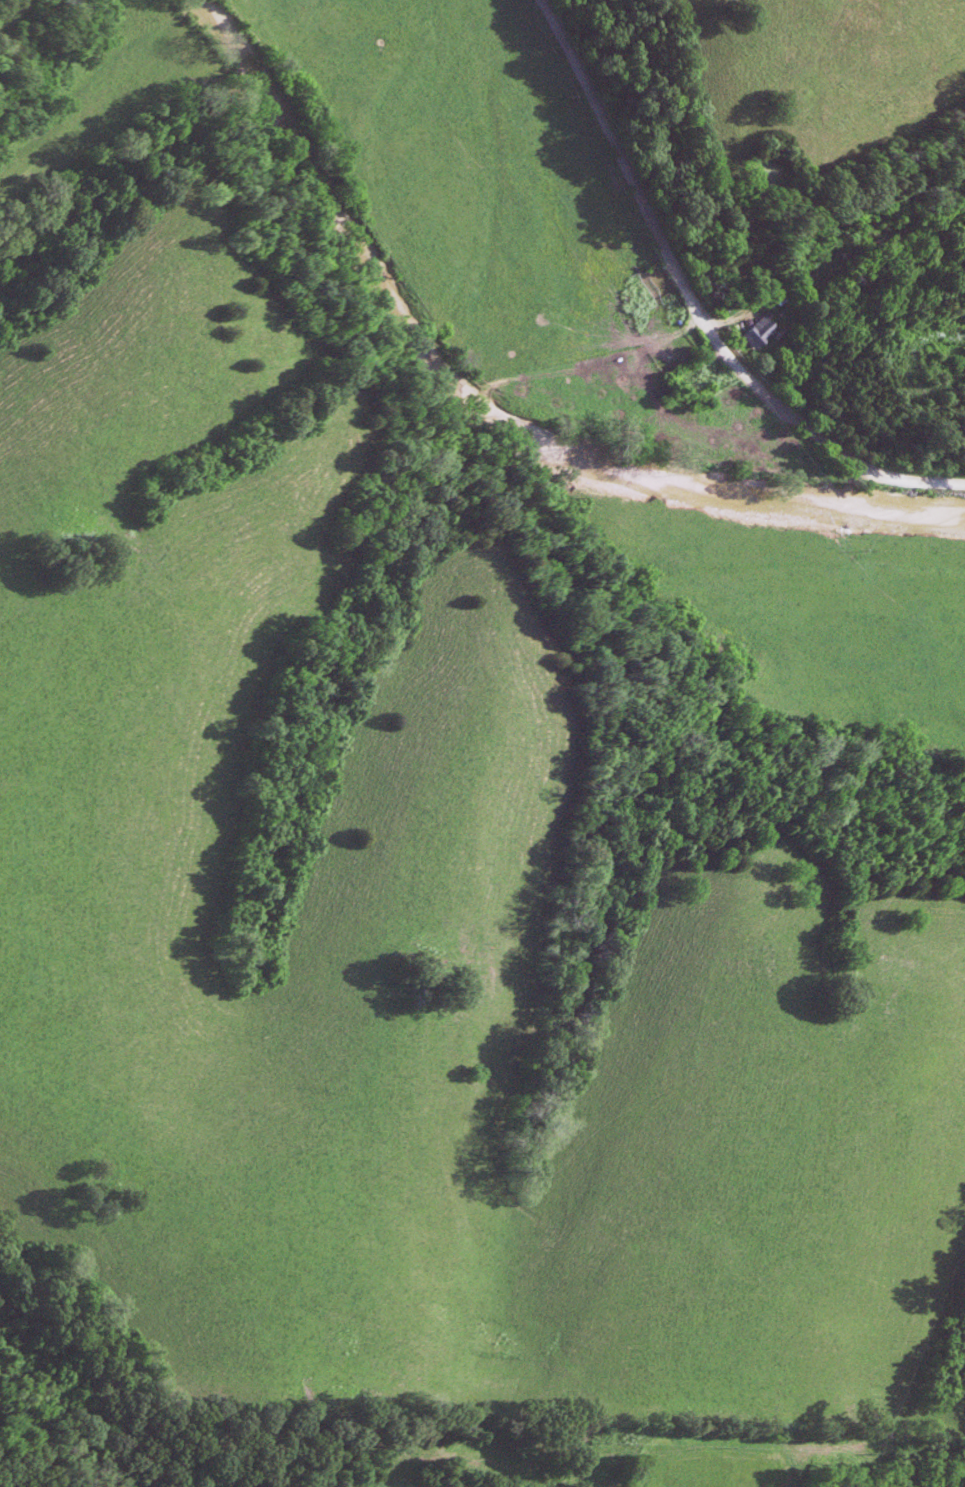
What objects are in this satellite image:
road: (694, 308)
building: (751, 331)

